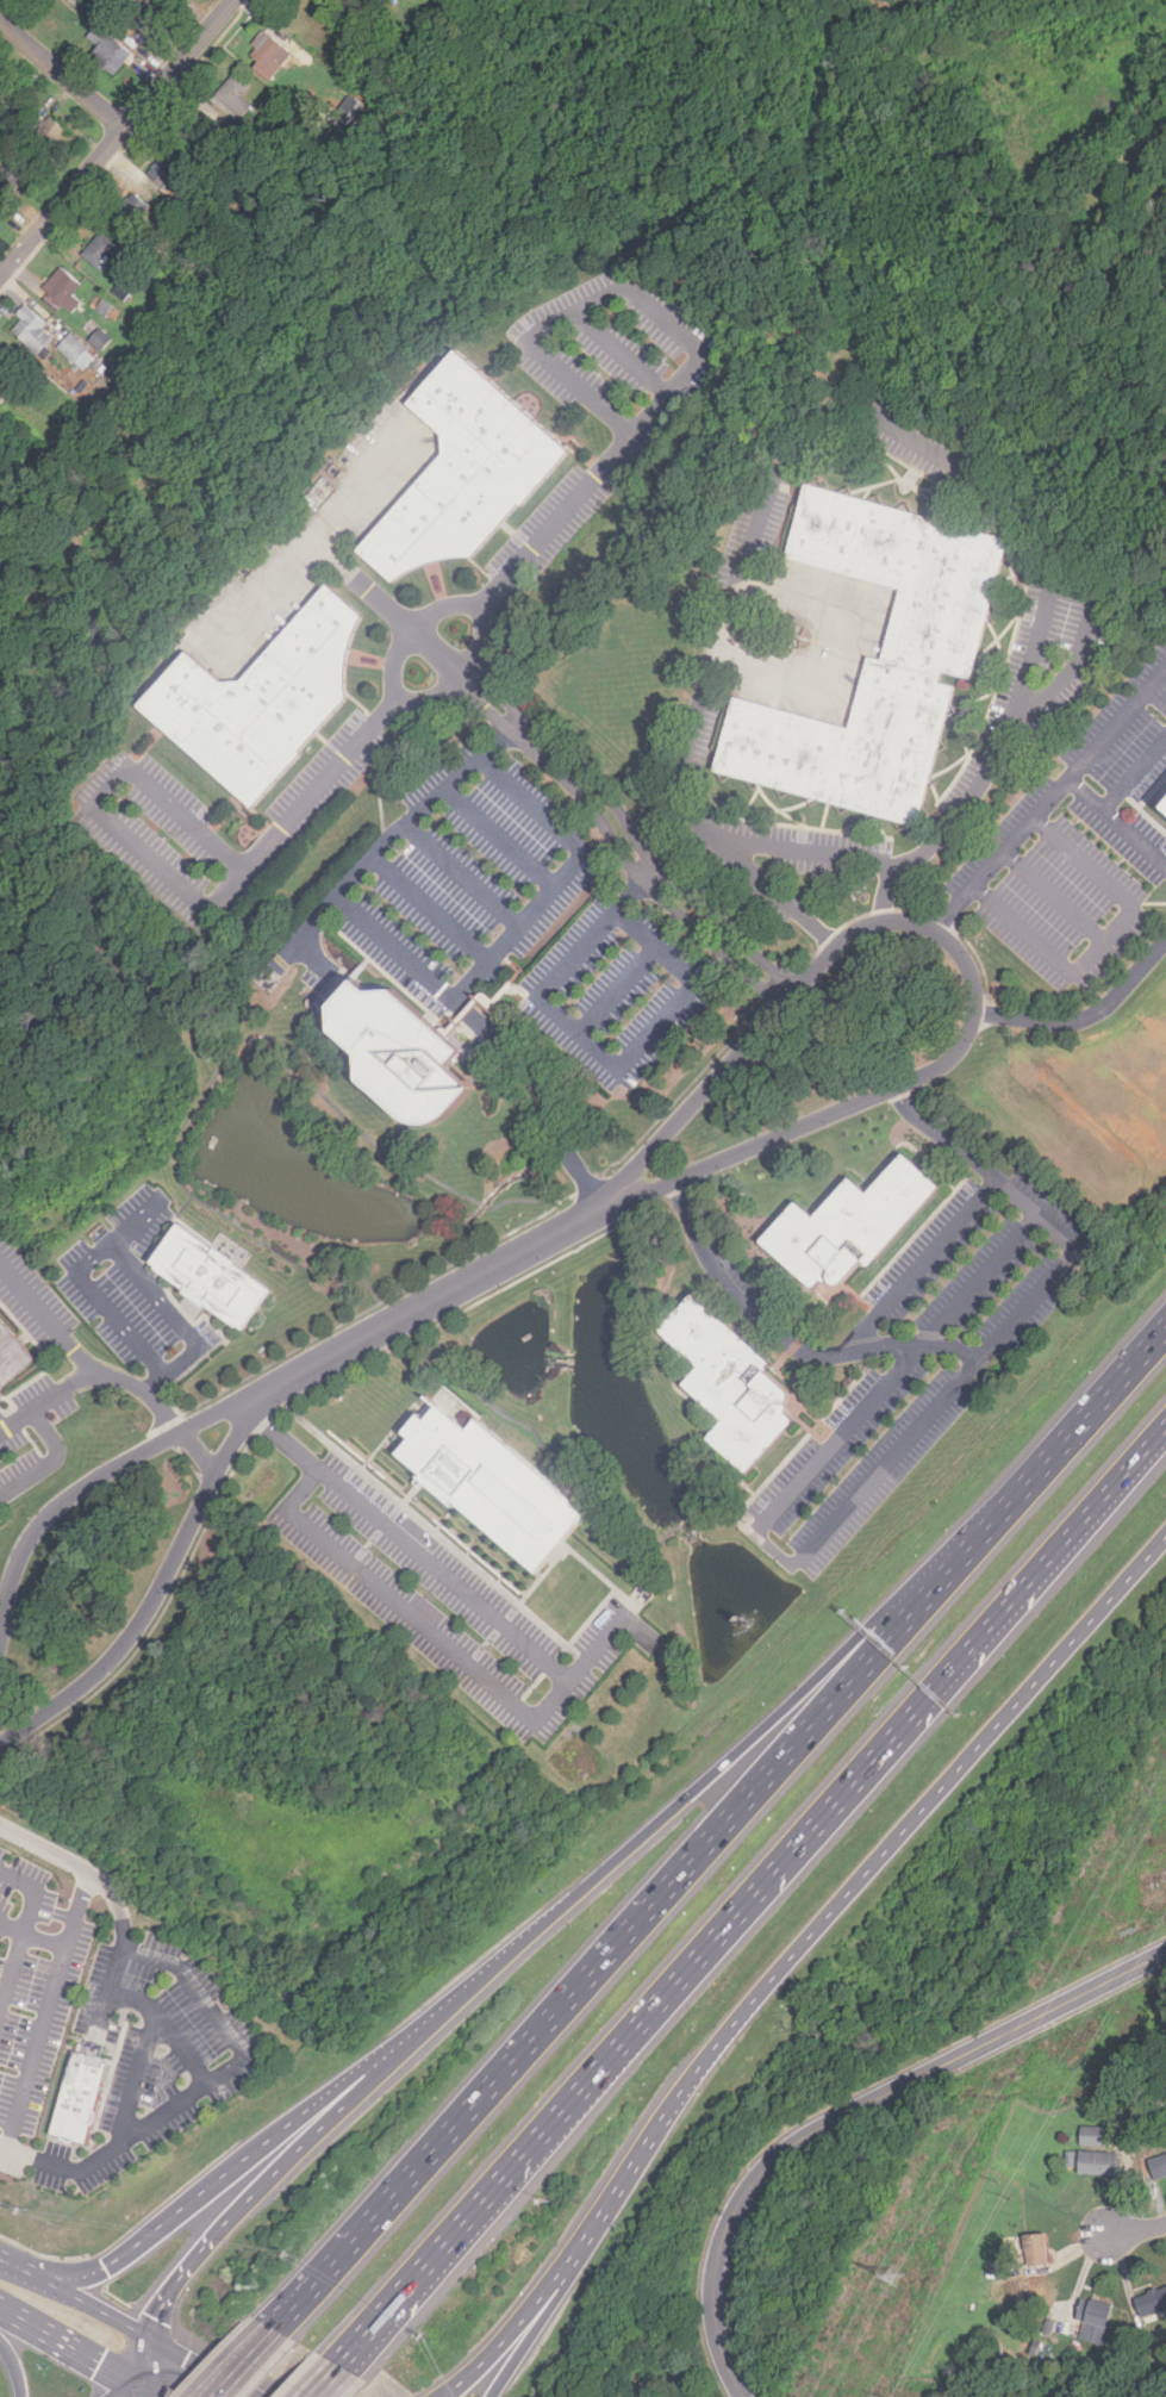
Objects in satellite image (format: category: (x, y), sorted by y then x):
building: (146, 15)
building: (107, 49)
building: (270, 51)
road: (62, 74)
river: (1074, 83)
building: (235, 93)
building: (198, 129)
building: (49, 133)
road: (117, 137)
building: (166, 169)
building: (11, 176)
building: (133, 210)
building: (99, 249)
building: (63, 289)
building: (106, 309)
building: (32, 330)
building: (101, 340)
building: (76, 350)
road: (696, 350)
road: (623, 354)
building: (2, 363)
road: (853, 409)
building: (463, 471)
road: (349, 504)
road: (314, 548)
road: (441, 611)
building: (939, 622)
road: (478, 643)
road: (841, 647)
road: (1079, 655)
road: (398, 660)
road: (466, 678)
road: (435, 692)
building: (261, 699)
road: (1133, 772)
road: (1046, 798)
building: (1164, 804)
road: (1115, 823)
road: (499, 840)
road: (463, 877)
road: (650, 877)
road: (183, 884)
road: (780, 895)
road: (1052, 895)
road: (430, 911)
road: (1103, 940)
road: (960, 954)
road: (428, 979)
road: (617, 990)
road: (1086, 1019)
building: (403, 1054)
road: (605, 1056)
road: (542, 1091)
road: (942, 1140)
road: (1037, 1216)
road: (135, 1221)
building: (850, 1225)
road: (91, 1254)
road: (923, 1268)
building: (208, 1277)
road: (981, 1280)
road: (736, 1295)
road: (425, 1306)
road: (46, 1319)
road: (916, 1343)
building: (11, 1355)
road: (173, 1364)
road: (121, 1376)
building: (738, 1380)
road: (937, 1405)
road: (1074, 1428)
road: (824, 1457)
road: (50, 1461)
building: (488, 1486)
road: (85, 1488)
road: (1047, 1562)
road: (451, 1582)
road: (155, 1596)
road: (409, 1615)
fountain: (738, 1624)
road: (731, 1756)
road: (69, 1861)
road: (874, 1862)
road: (35, 1892)
road: (12, 1929)
road: (628, 1930)
road: (45, 1941)
road: (12, 1976)
road: (116, 1976)
road: (451, 2007)
road: (46, 2011)
road: (167, 2029)
road: (631, 2032)
road: (373, 2067)
road: (385, 2069)
road: (138, 2080)
building: (85, 2091)
road: (200, 2092)
road: (852, 2111)
building: (1093, 2137)
building: (1071, 2160)
building: (1100, 2166)
building: (1159, 2168)
road: (181, 2212)
road: (233, 2214)
road: (1135, 2231)
road: (587, 2235)
building: (1036, 2252)
traffic signals: (104, 2271)
power tower: (892, 2278)
building: (1025, 2297)
road: (73, 2298)
building: (1151, 2304)
building: (1095, 2321)
building: (1047, 2329)
road: (529, 2330)
road: (511, 2334)
traffic signals: (144, 2339)
road: (261, 2342)
road: (67, 2347)
building: (1034, 2352)
road: (137, 2362)
building: (961, 2362)
road: (186, 2370)
road: (12, 2371)
road: (161, 2376)
road: (223, 2377)
road: (231, 2377)
road: (323, 2382)
traffic signals: (135, 2387)
road: (127, 2392)
road: (143, 2392)

